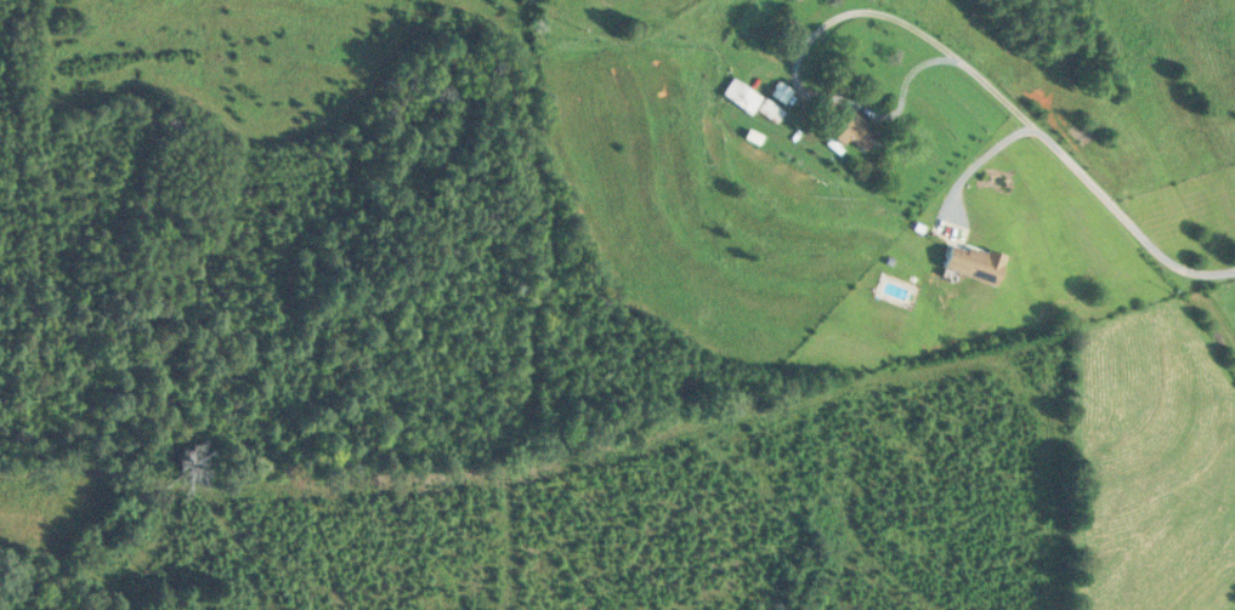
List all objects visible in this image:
road: (905, 81)
road: (987, 82)
building: (742, 93)
building: (771, 109)
building: (856, 129)
road: (982, 159)
building: (974, 262)
road: (1202, 269)

